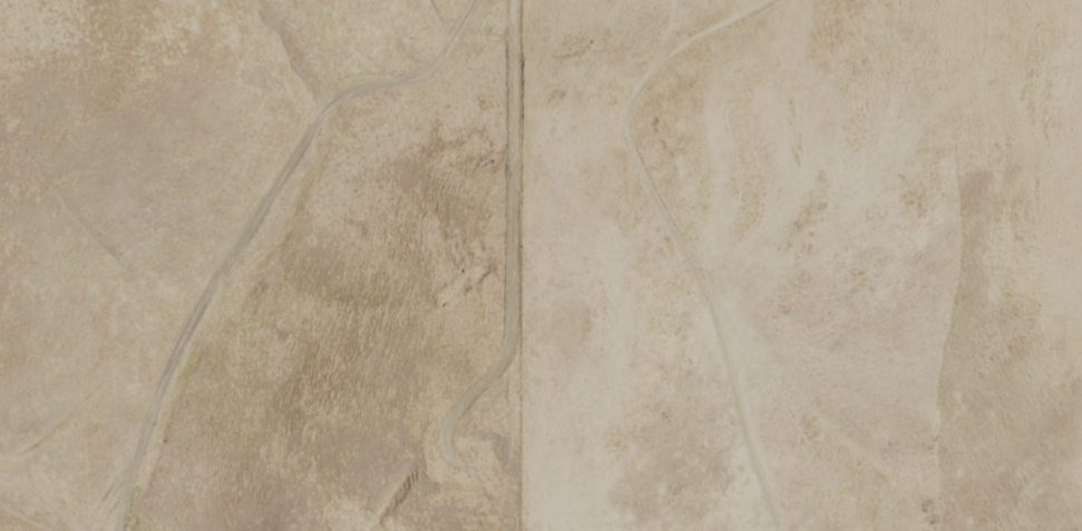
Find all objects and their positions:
road: (666, 230)

